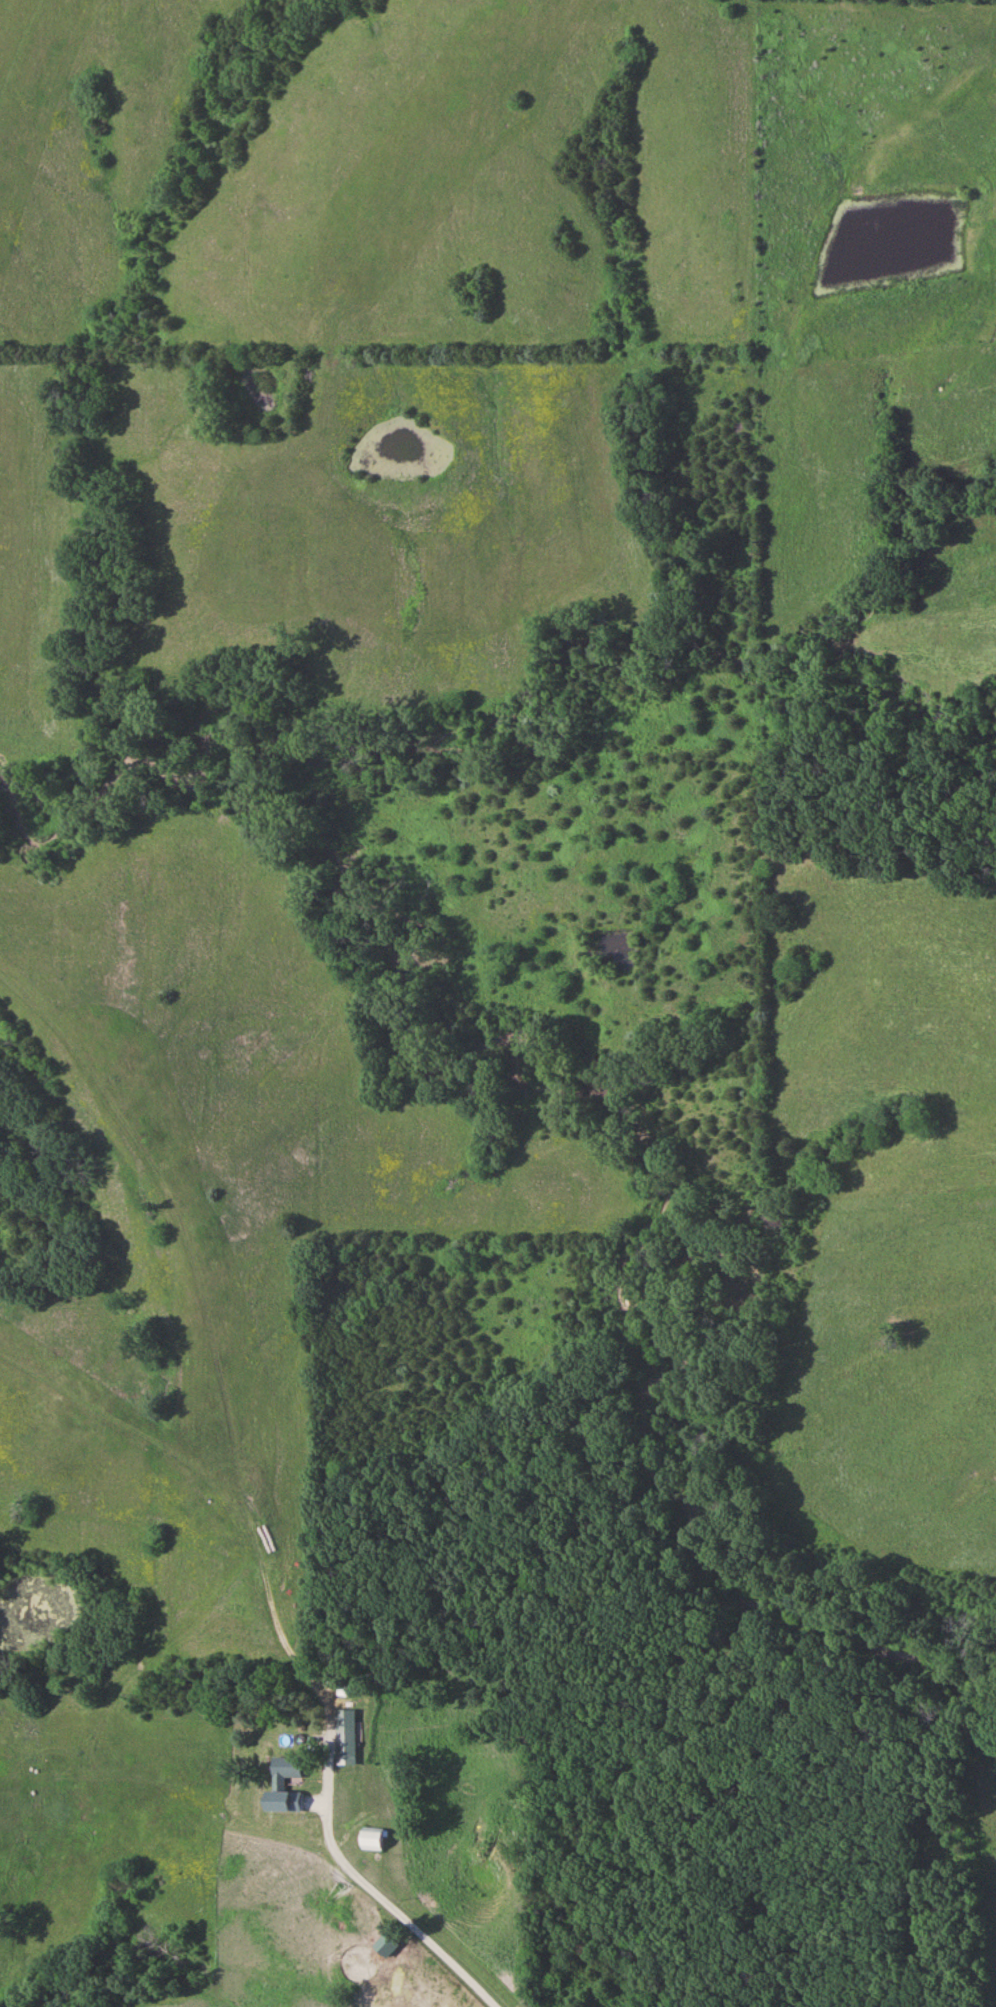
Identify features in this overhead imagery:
building: (346, 1743)
building: (284, 1772)
building: (370, 1838)
road: (421, 1937)

